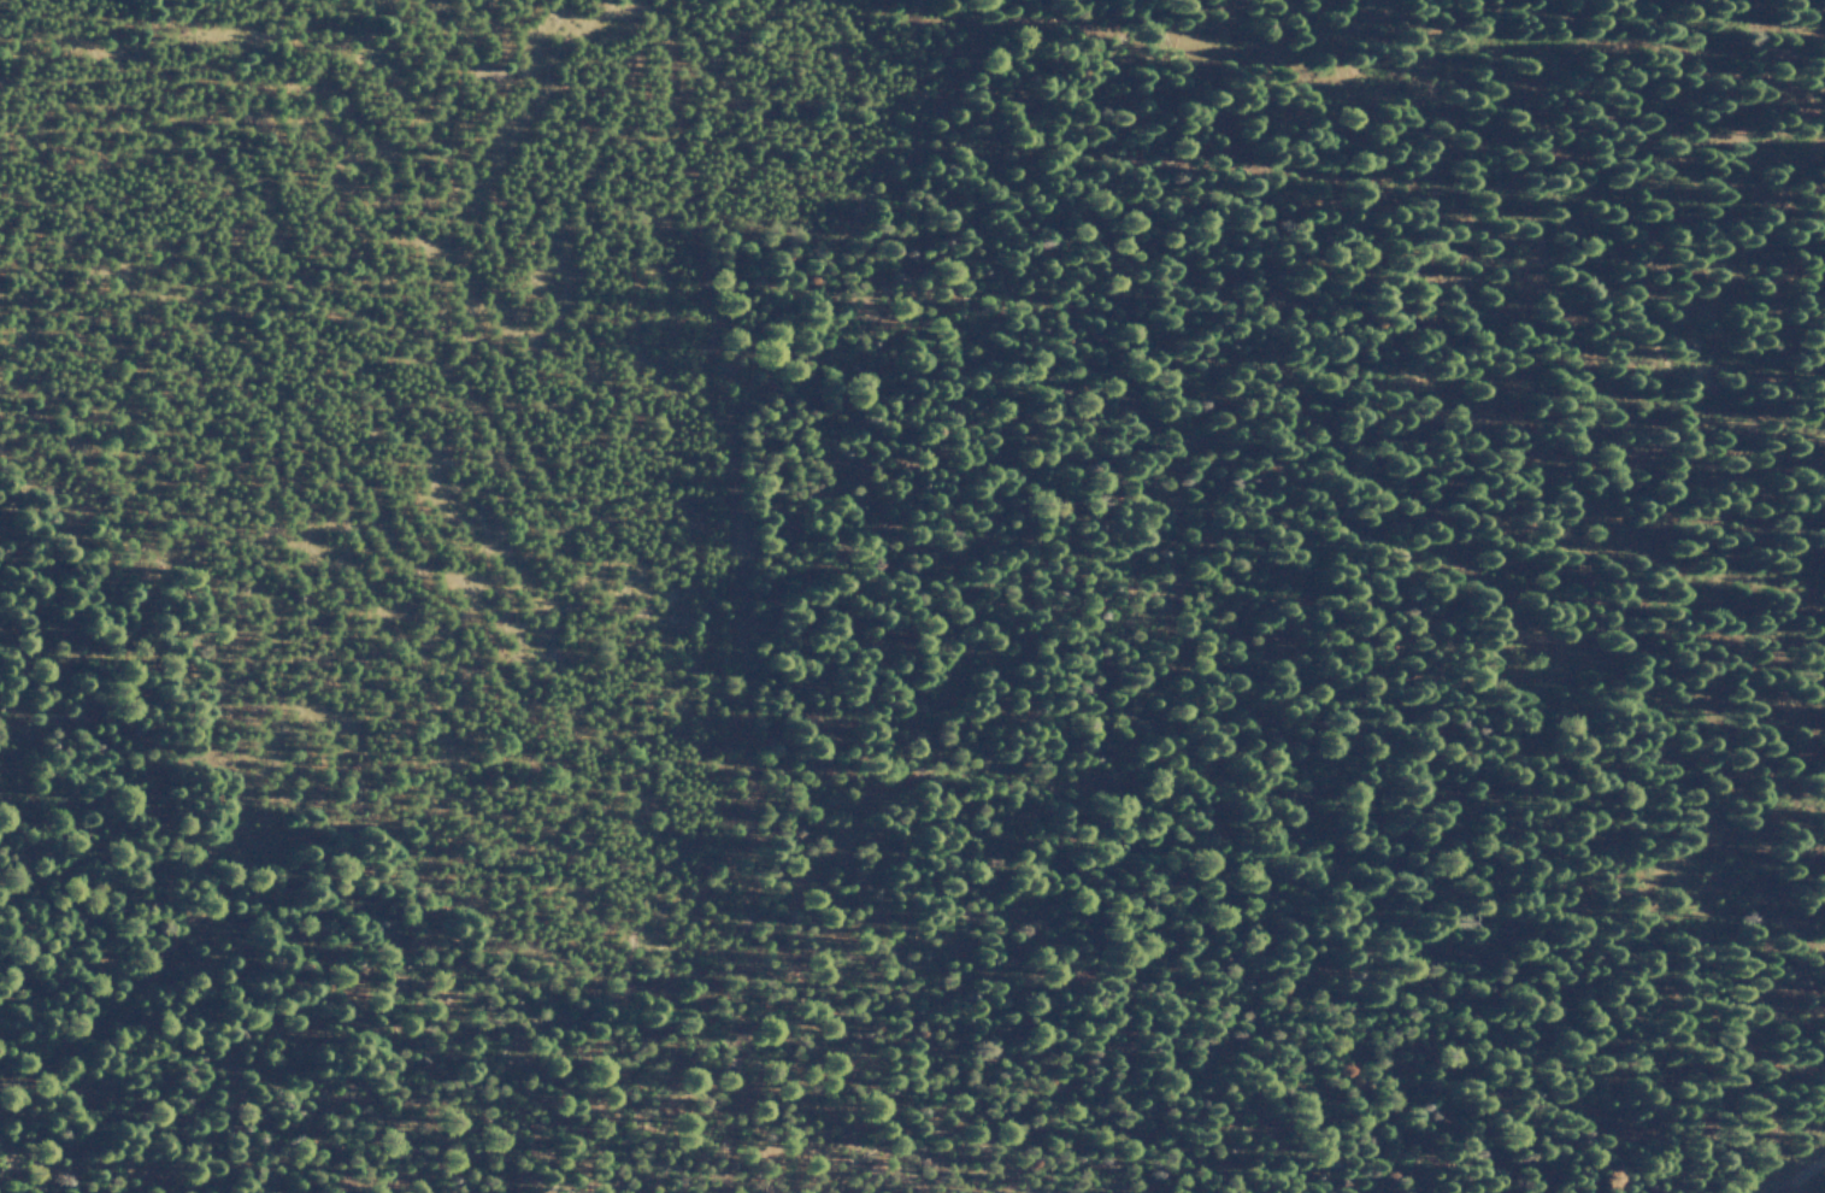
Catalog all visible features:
road: (1801, 1173)

